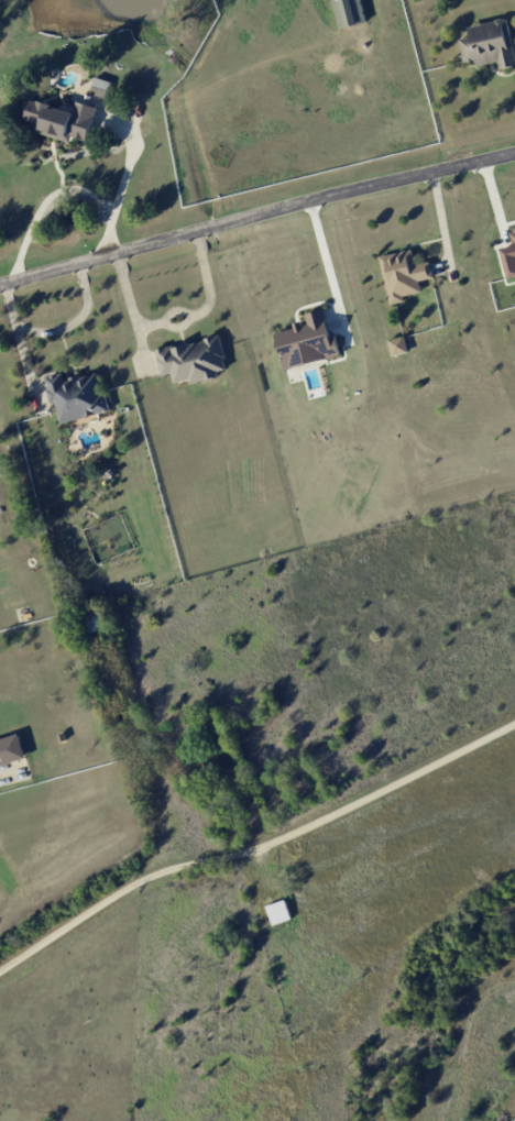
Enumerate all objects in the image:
building: (351, 12)
building: (490, 43)
building: (102, 85)
building: (65, 119)
road: (120, 185)
road: (42, 204)
road: (256, 215)
building: (514, 234)
building: (511, 259)
road: (327, 266)
building: (404, 274)
road: (75, 318)
road: (21, 339)
building: (310, 340)
building: (399, 344)
building: (195, 359)
building: (78, 396)
building: (12, 749)
road: (7, 778)
road: (257, 854)
building: (280, 911)

